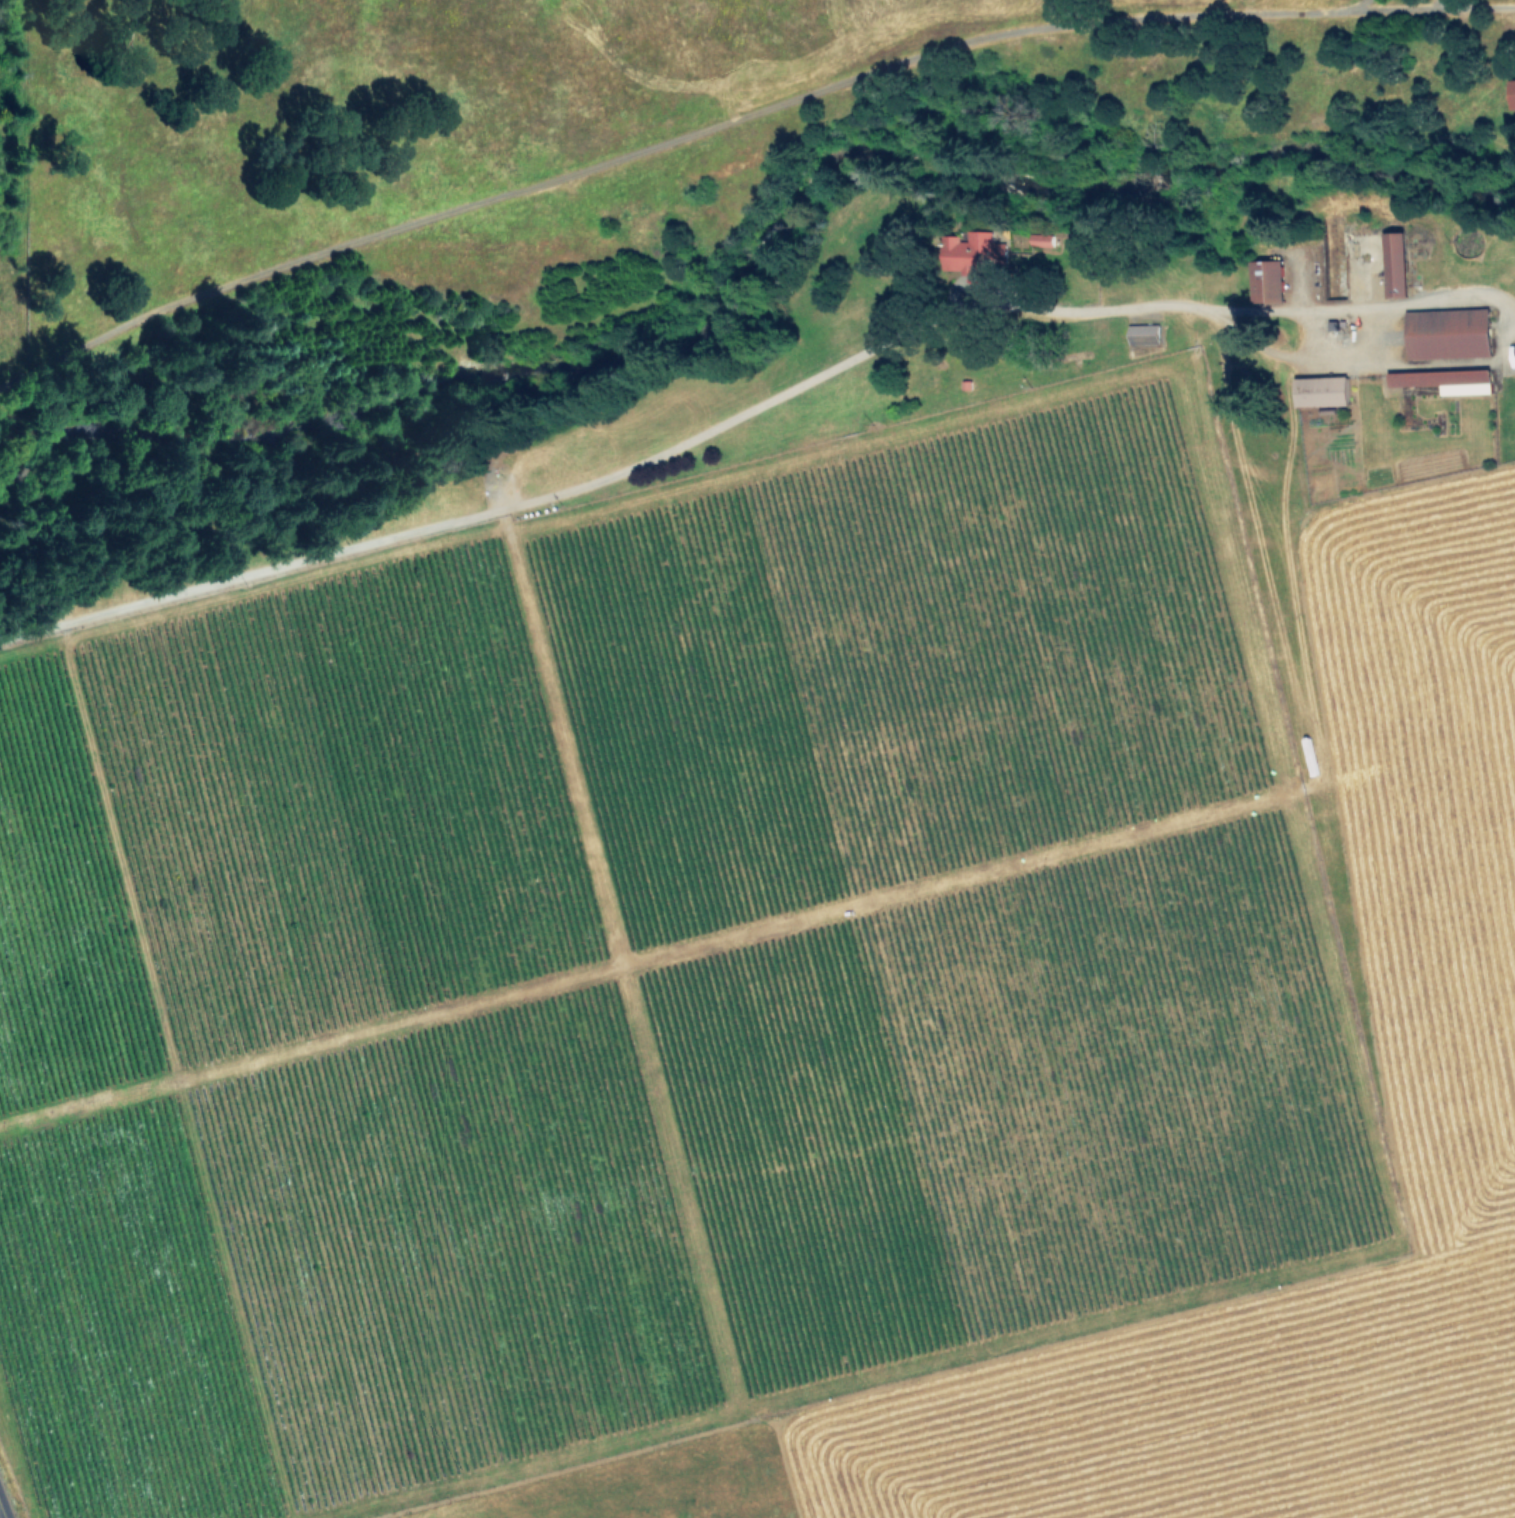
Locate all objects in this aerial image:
crop: (614, 70)
building: (1042, 239)
building: (1395, 264)
building: (1267, 281)
building: (1448, 332)
building: (1144, 333)
road: (1501, 336)
building: (1447, 380)
road: (606, 480)
crop: (800, 953)
road: (1, 1514)

